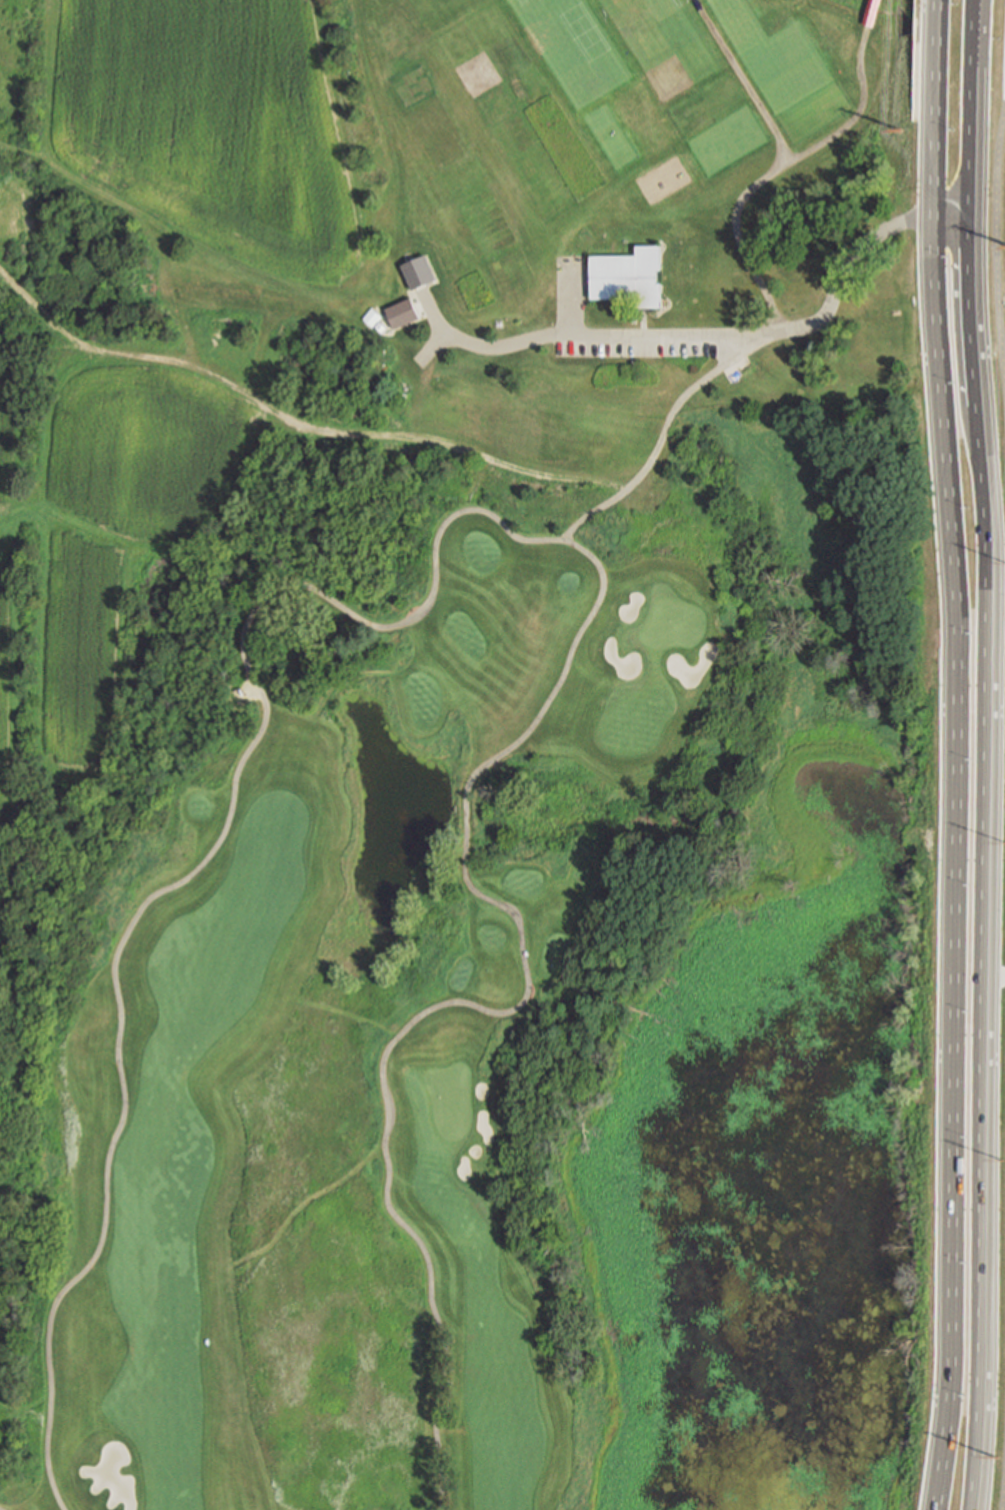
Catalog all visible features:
road: (869, 13)
road: (935, 107)
power tower: (903, 129)
road: (860, 131)
road: (824, 138)
road: (775, 168)
road: (922, 217)
road: (972, 251)
road: (996, 253)
building: (418, 274)
building: (627, 276)
road: (839, 293)
building: (370, 318)
road: (587, 336)
road: (414, 437)
road: (470, 508)
road: (597, 510)
park: (460, 757)
road: (953, 862)
road: (995, 979)
road: (984, 1006)
power tower: (1003, 1159)
power tower: (997, 1458)
road: (1002, 1482)

